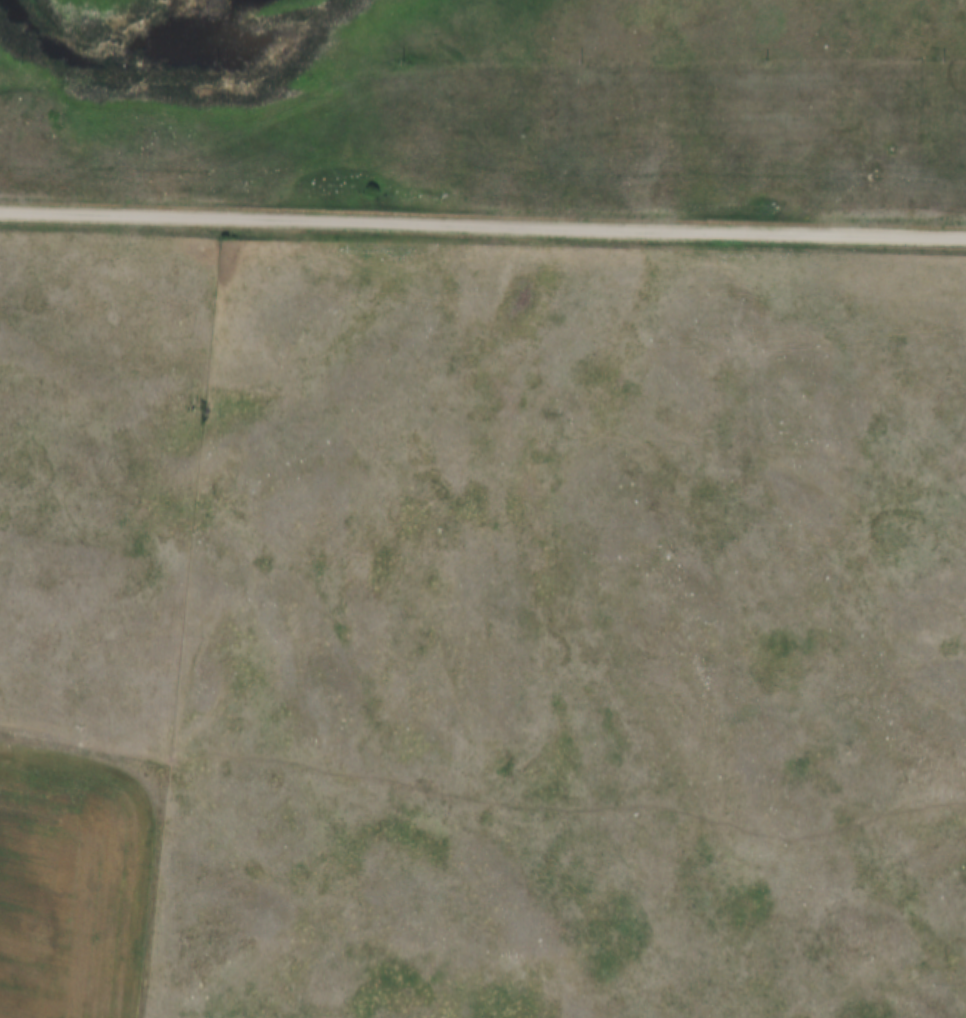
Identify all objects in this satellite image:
road: (482, 224)

